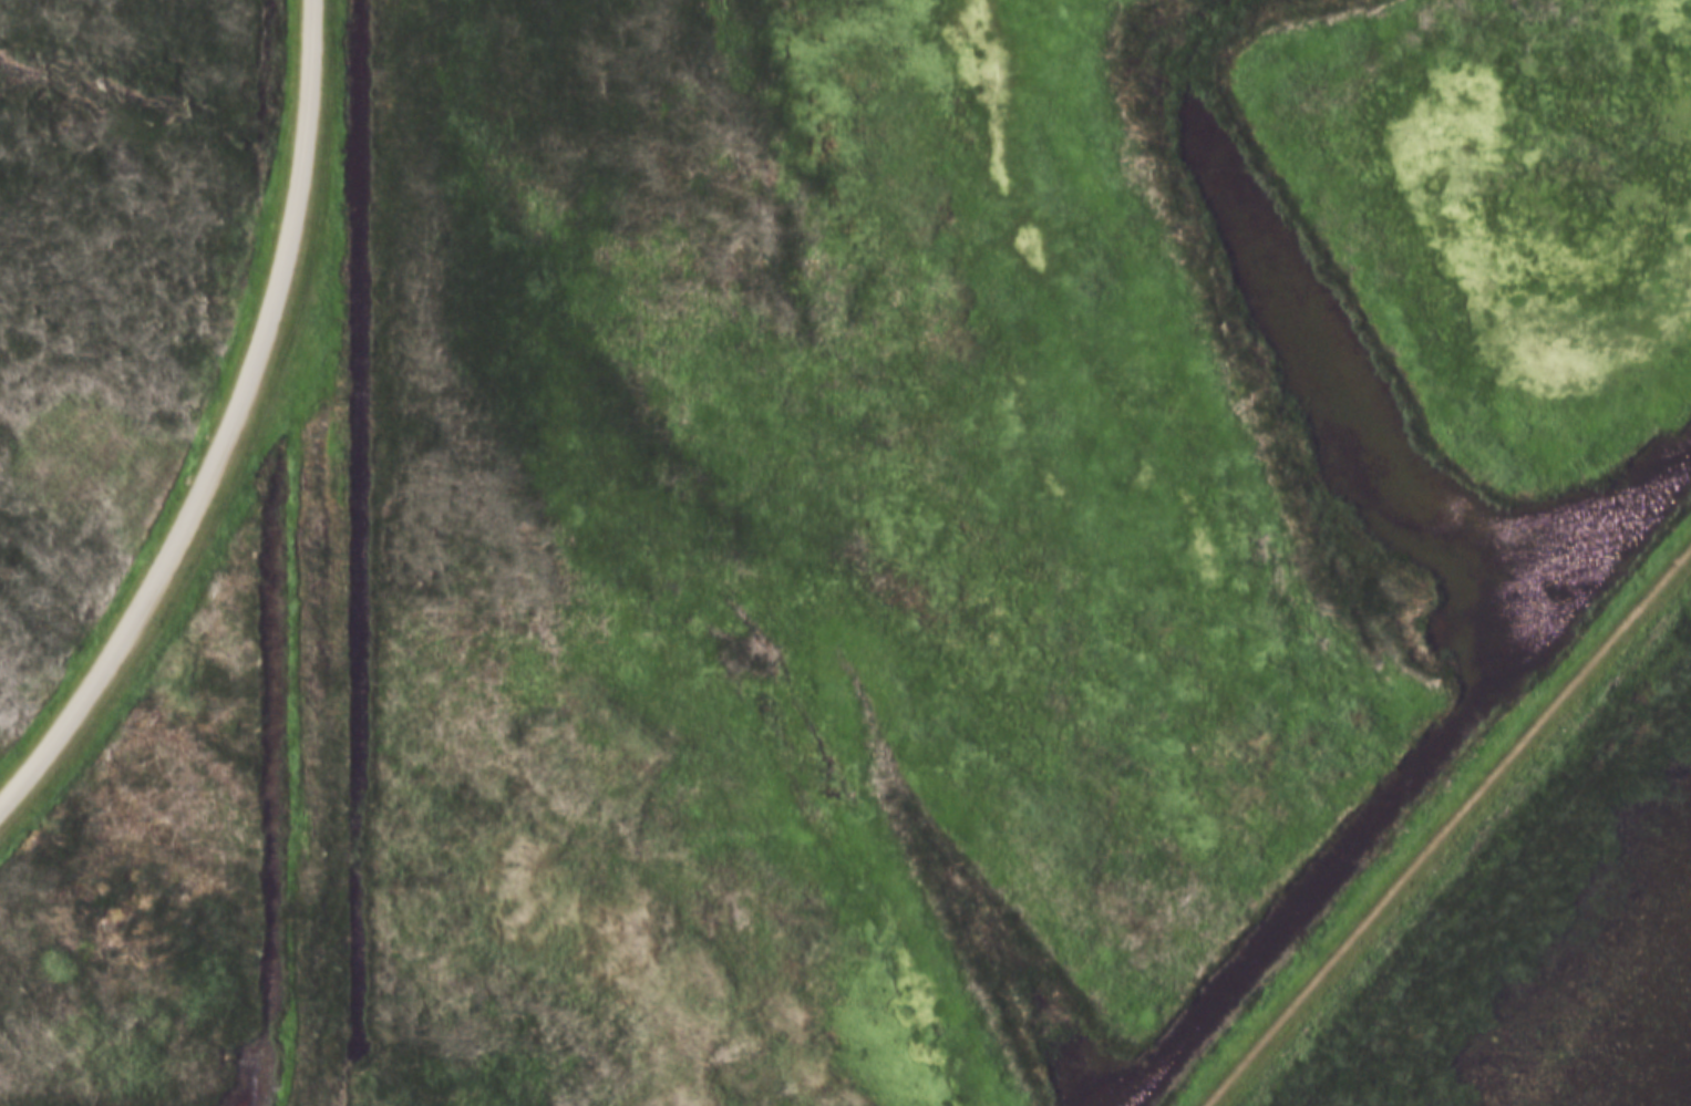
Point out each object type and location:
road: (313, 46)
road: (209, 472)
road: (1447, 826)
dam: (1464, 847)

